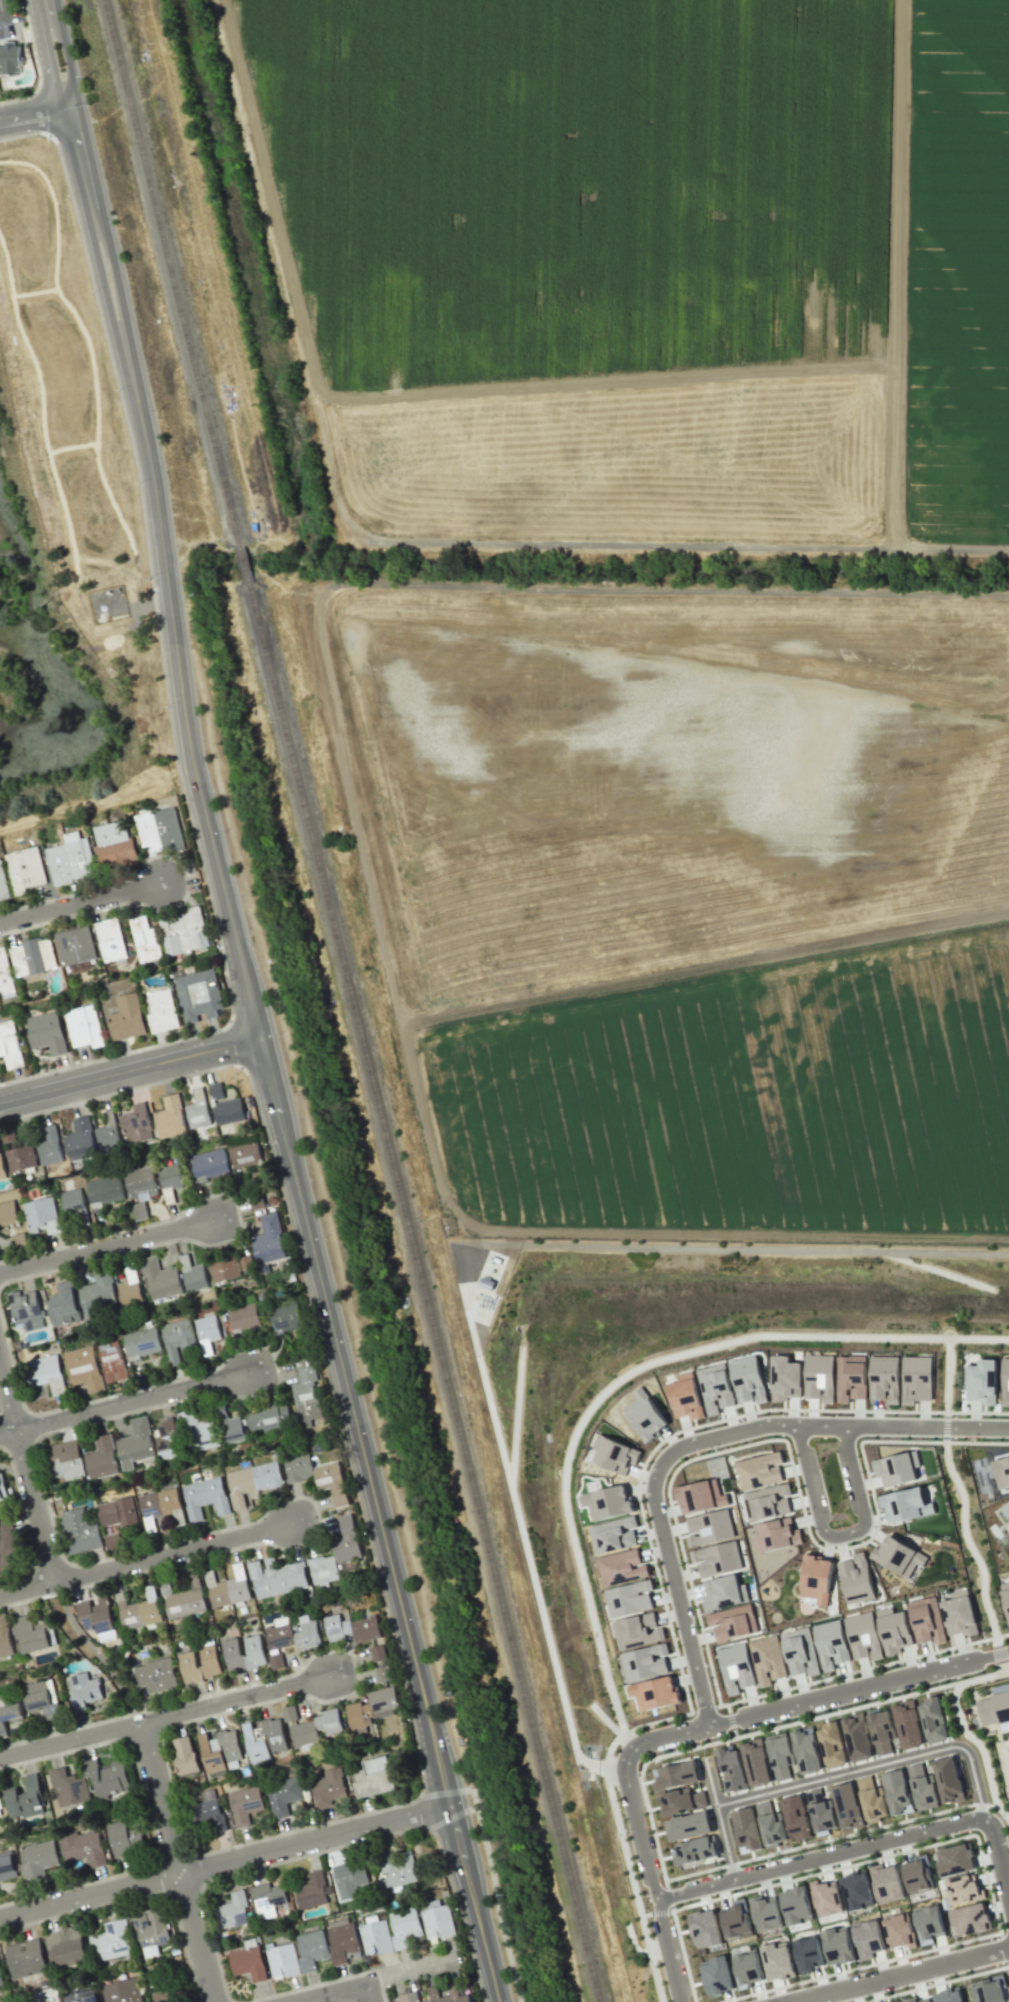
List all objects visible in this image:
street lamp: (22, 8)
parking lot: (15, 11)
road: (1, 13)
road: (58, 54)
building: (10, 57)
road: (35, 115)
street lamp: (35, 135)
street lamp: (69, 197)
railway: (172, 273)
street lamp: (93, 293)
street lamp: (118, 391)
street lamp: (137, 484)
railway: (244, 564)
road: (168, 573)
street lamp: (150, 578)
street lamp: (167, 707)
building: (161, 829)
street lamp: (224, 832)
building: (116, 844)
building: (72, 861)
building: (28, 869)
building: (4, 882)
road: (80, 904)
building: (185, 931)
building: (111, 939)
building: (146, 939)
building: (76, 945)
building: (35, 957)
building: (6, 975)
building: (199, 995)
building: (163, 1011)
building: (127, 1018)
building: (85, 1027)
building: (47, 1032)
street lamp: (278, 1034)
building: (11, 1045)
road: (129, 1071)
street lamp: (201, 1075)
building: (225, 1106)
crop: (747, 1106)
building: (198, 1110)
building: (171, 1117)
building: (137, 1123)
building: (109, 1133)
building: (80, 1139)
street lamp: (266, 1145)
building: (50, 1147)
building: (245, 1153)
building: (21, 1159)
building: (210, 1163)
building: (2, 1168)
building: (171, 1180)
building: (141, 1181)
building: (106, 1190)
building: (75, 1205)
building: (8, 1213)
building: (41, 1214)
street lamp: (324, 1237)
building: (269, 1238)
road: (107, 1247)
building: (225, 1268)
building: (193, 1274)
building: (161, 1279)
building: (131, 1289)
railway: (423, 1292)
building: (100, 1295)
building: (64, 1304)
building: (27, 1309)
building: (245, 1317)
building: (285, 1317)
building: (207, 1332)
building: (179, 1339)
street lamp: (350, 1340)
building: (143, 1342)
building: (111, 1358)
building: (85, 1368)
building: (47, 1373)
building: (819, 1377)
building: (884, 1377)
road: (947, 1377)
building: (850, 1378)
building: (916, 1378)
building: (748, 1379)
building: (786, 1379)
building: (981, 1381)
building: (1005, 1382)
park: (946, 1384)
building: (714, 1387)
building: (306, 1396)
building: (685, 1396)
road: (126, 1405)
building: (644, 1415)
street lamp: (834, 1415)
building: (268, 1418)
road: (945, 1426)
building: (232, 1429)
building: (198, 1431)
street lamp: (371, 1432)
building: (166, 1435)
street lamp: (972, 1439)
road: (697, 1442)
building: (135, 1443)
street lamp: (713, 1448)
building: (614, 1454)
building: (101, 1458)
building: (65, 1460)
building: (896, 1468)
road: (28, 1470)
building: (758, 1471)
building: (1001, 1472)
building: (316, 1475)
building: (251, 1481)
building: (2, 1488)
road: (564, 1494)
building: (205, 1496)
building: (700, 1496)
building: (606, 1502)
building: (767, 1502)
building: (159, 1503)
building: (905, 1505)
street lamp: (807, 1510)
building: (1005, 1511)
building: (117, 1512)
road: (384, 1519)
building: (709, 1528)
building: (79, 1531)
road: (838, 1532)
street lamp: (364, 1535)
building: (613, 1535)
building: (776, 1535)
building: (112, 1540)
park: (971, 1540)
street lamp: (653, 1542)
road: (968, 1542)
building: (8, 1546)
building: (336, 1553)
road: (148, 1556)
building: (898, 1556)
building: (717, 1559)
building: (620, 1567)
building: (276, 1577)
building: (815, 1578)
building: (856, 1579)
building: (227, 1587)
building: (723, 1593)
building: (1006, 1596)
building: (628, 1598)
building: (184, 1599)
building: (138, 1610)
building: (959, 1614)
building: (97, 1618)
street lamp: (418, 1619)
building: (926, 1619)
building: (732, 1622)
building: (352, 1628)
building: (636, 1630)
building: (893, 1630)
building: (306, 1632)
building: (33, 1634)
building: (862, 1636)
building: (5, 1638)
building: (830, 1644)
street lamp: (986, 1644)
street lamp: (700, 1648)
building: (800, 1651)
building: (379, 1652)
road: (95, 1653)
building: (243, 1653)
road: (999, 1654)
building: (767, 1659)
building: (209, 1660)
building: (276, 1661)
building: (644, 1662)
building: (189, 1667)
building: (735, 1667)
building: (383, 1673)
building: (156, 1677)
building: (82, 1691)
building: (654, 1693)
street lamp: (889, 1694)
building: (42, 1698)
road: (814, 1699)
street lamp: (761, 1700)
building: (371, 1706)
building: (994, 1708)
building: (290, 1713)
road: (828, 1715)
building: (9, 1716)
road: (167, 1718)
street lamp: (408, 1719)
building: (933, 1719)
road: (730, 1720)
building: (907, 1724)
building: (315, 1728)
building: (881, 1730)
road: (964, 1732)
building: (274, 1735)
park: (984, 1735)
building: (857, 1737)
road: (629, 1740)
street lamp: (693, 1743)
building: (255, 1744)
building: (831, 1745)
building: (806, 1750)
building: (185, 1755)
building: (780, 1755)
building: (755, 1762)
road: (874, 1766)
road: (616, 1767)
building: (731, 1770)
street lamp: (637, 1772)
building: (675, 1775)
building: (107, 1777)
building: (372, 1777)
building: (948, 1780)
building: (328, 1787)
building: (922, 1787)
building: (69, 1788)
building: (895, 1791)
road: (441, 1792)
building: (284, 1795)
building: (26, 1799)
building: (871, 1799)
street lamp: (468, 1801)
building: (681, 1801)
building: (245, 1804)
building: (847, 1805)
building: (820, 1810)
building: (0, 1811)
building: (210, 1812)
road: (451, 1817)
building: (796, 1818)
road: (719, 1821)
building: (770, 1823)
building: (687, 1826)
building: (746, 1830)
street lamp: (950, 1836)
building: (124, 1839)
street lamp: (829, 1844)
building: (84, 1848)
building: (694, 1851)
road: (997, 1857)
building: (38, 1859)
road: (818, 1859)
building: (955, 1859)
road: (224, 1861)
road: (179, 1863)
building: (7, 1867)
building: (397, 1870)
building: (917, 1875)
building: (351, 1879)
road: (652, 1879)
building: (886, 1883)
street lamp: (743, 1887)
building: (962, 1889)
building: (856, 1890)
building: (311, 1891)
road: (494, 1892)
building: (826, 1898)
building: (267, 1899)
building: (795, 1905)
street lamp: (456, 1910)
building: (234, 1911)
road: (659, 1912)
building: (765, 1913)
road: (645, 1914)
building: (970, 1919)
building: (437, 1920)
building: (736, 1921)
building: (928, 1924)
building: (405, 1926)
building: (704, 1928)
building: (150, 1931)
building: (899, 1931)
building: (376, 1937)
building: (867, 1939)
street lamp: (989, 1939)
building: (112, 1941)
building: (343, 1941)
building: (66, 1945)
building: (838, 1946)
building: (311, 1949)
building: (807, 1954)
building: (26, 1959)
building: (283, 1961)
building: (777, 1962)
building: (248, 1963)
building: (749, 1968)
road: (403, 1970)
road: (900, 1974)
building: (716, 1976)
building: (1, 1979)
building: (988, 1990)
building: (122, 1991)
road: (331, 1994)
building: (450, 1995)
building: (948, 1995)
building: (81, 1996)
road: (365, 1997)
building: (409, 1997)
building: (909, 1999)
street lamp: (513, 2000)
building: (428, 2001)
building: (927, 2001)

